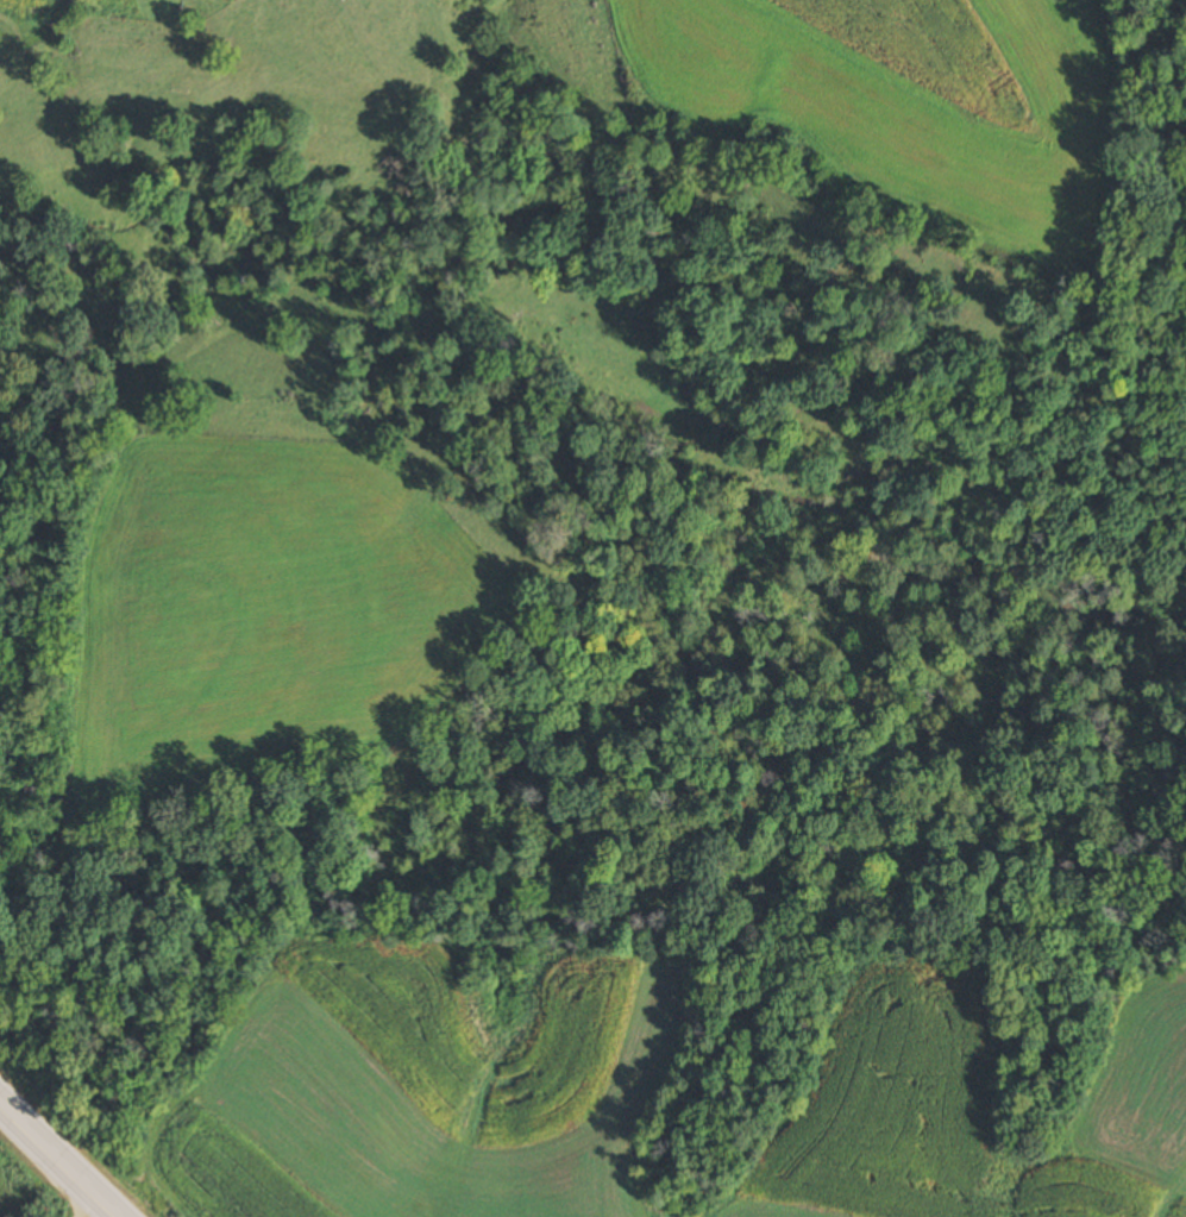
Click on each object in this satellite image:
building: (33, 786)
road: (57, 1160)

